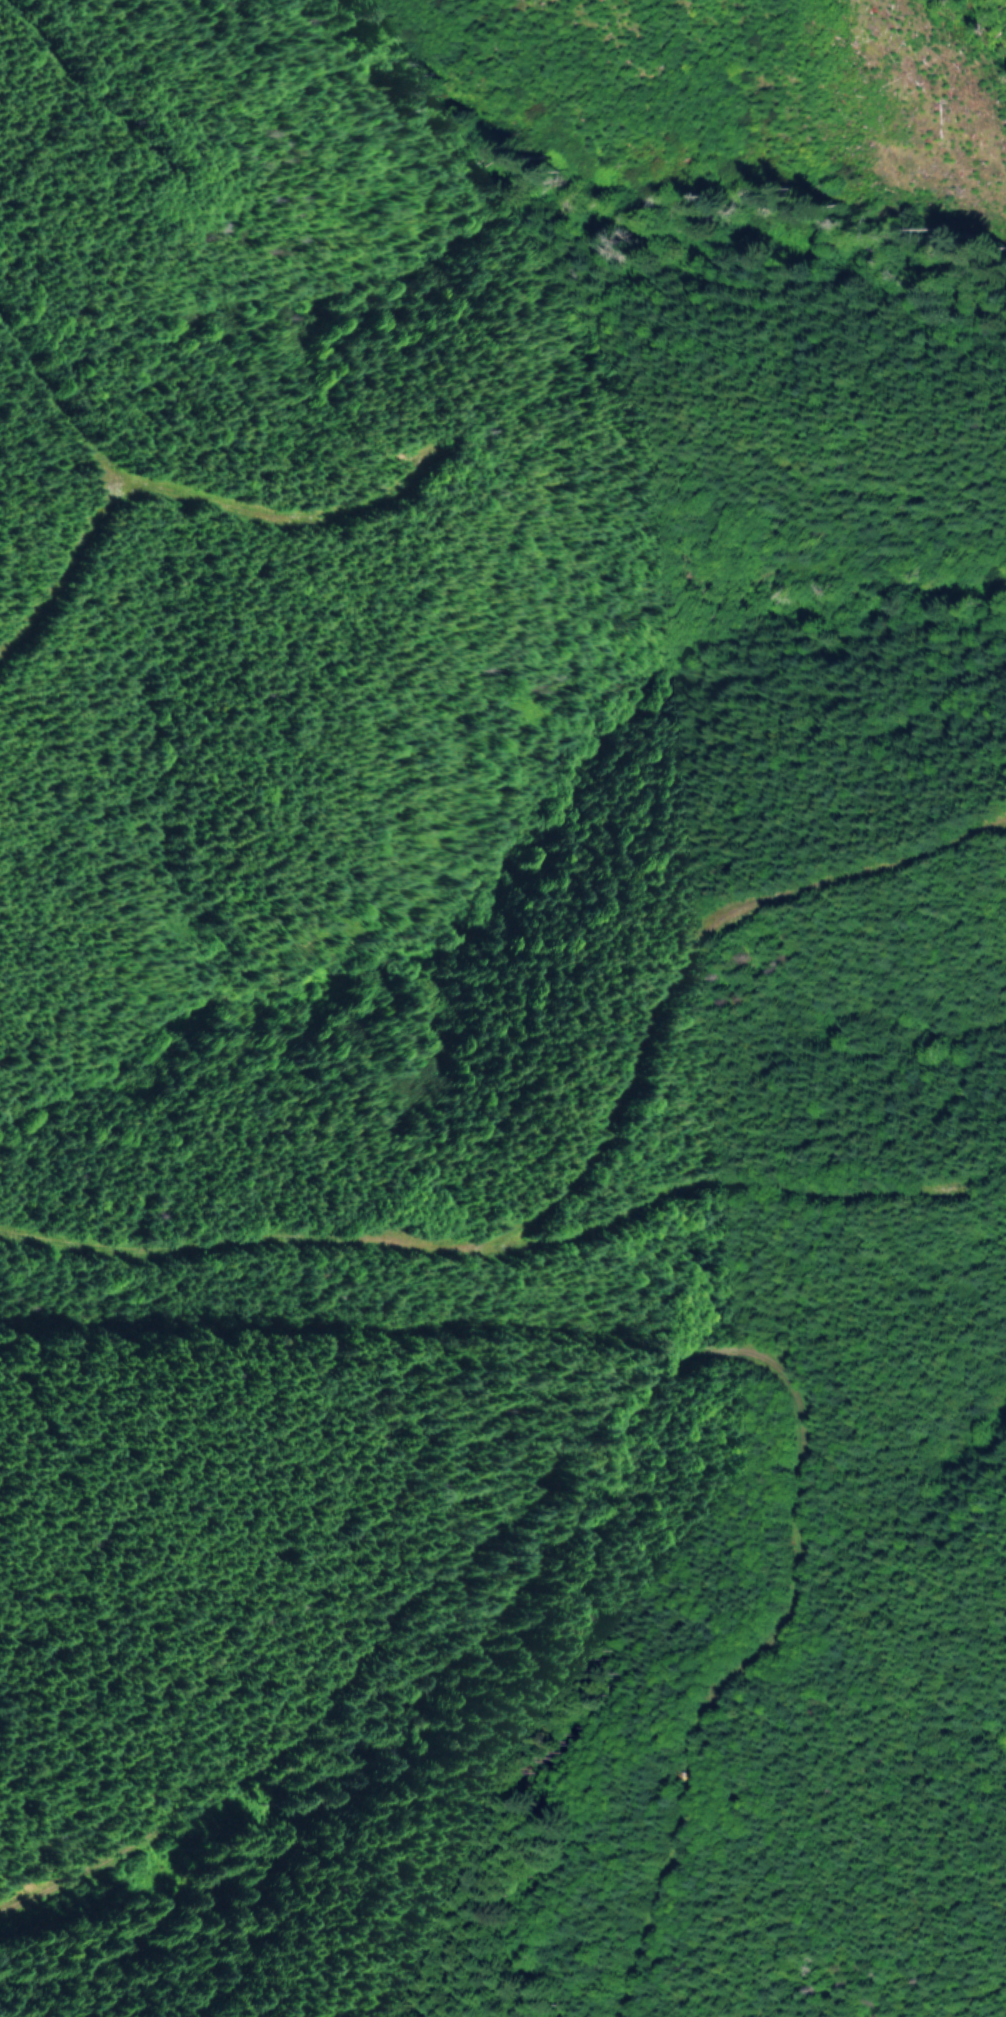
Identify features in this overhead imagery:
road: (746, 1816)

